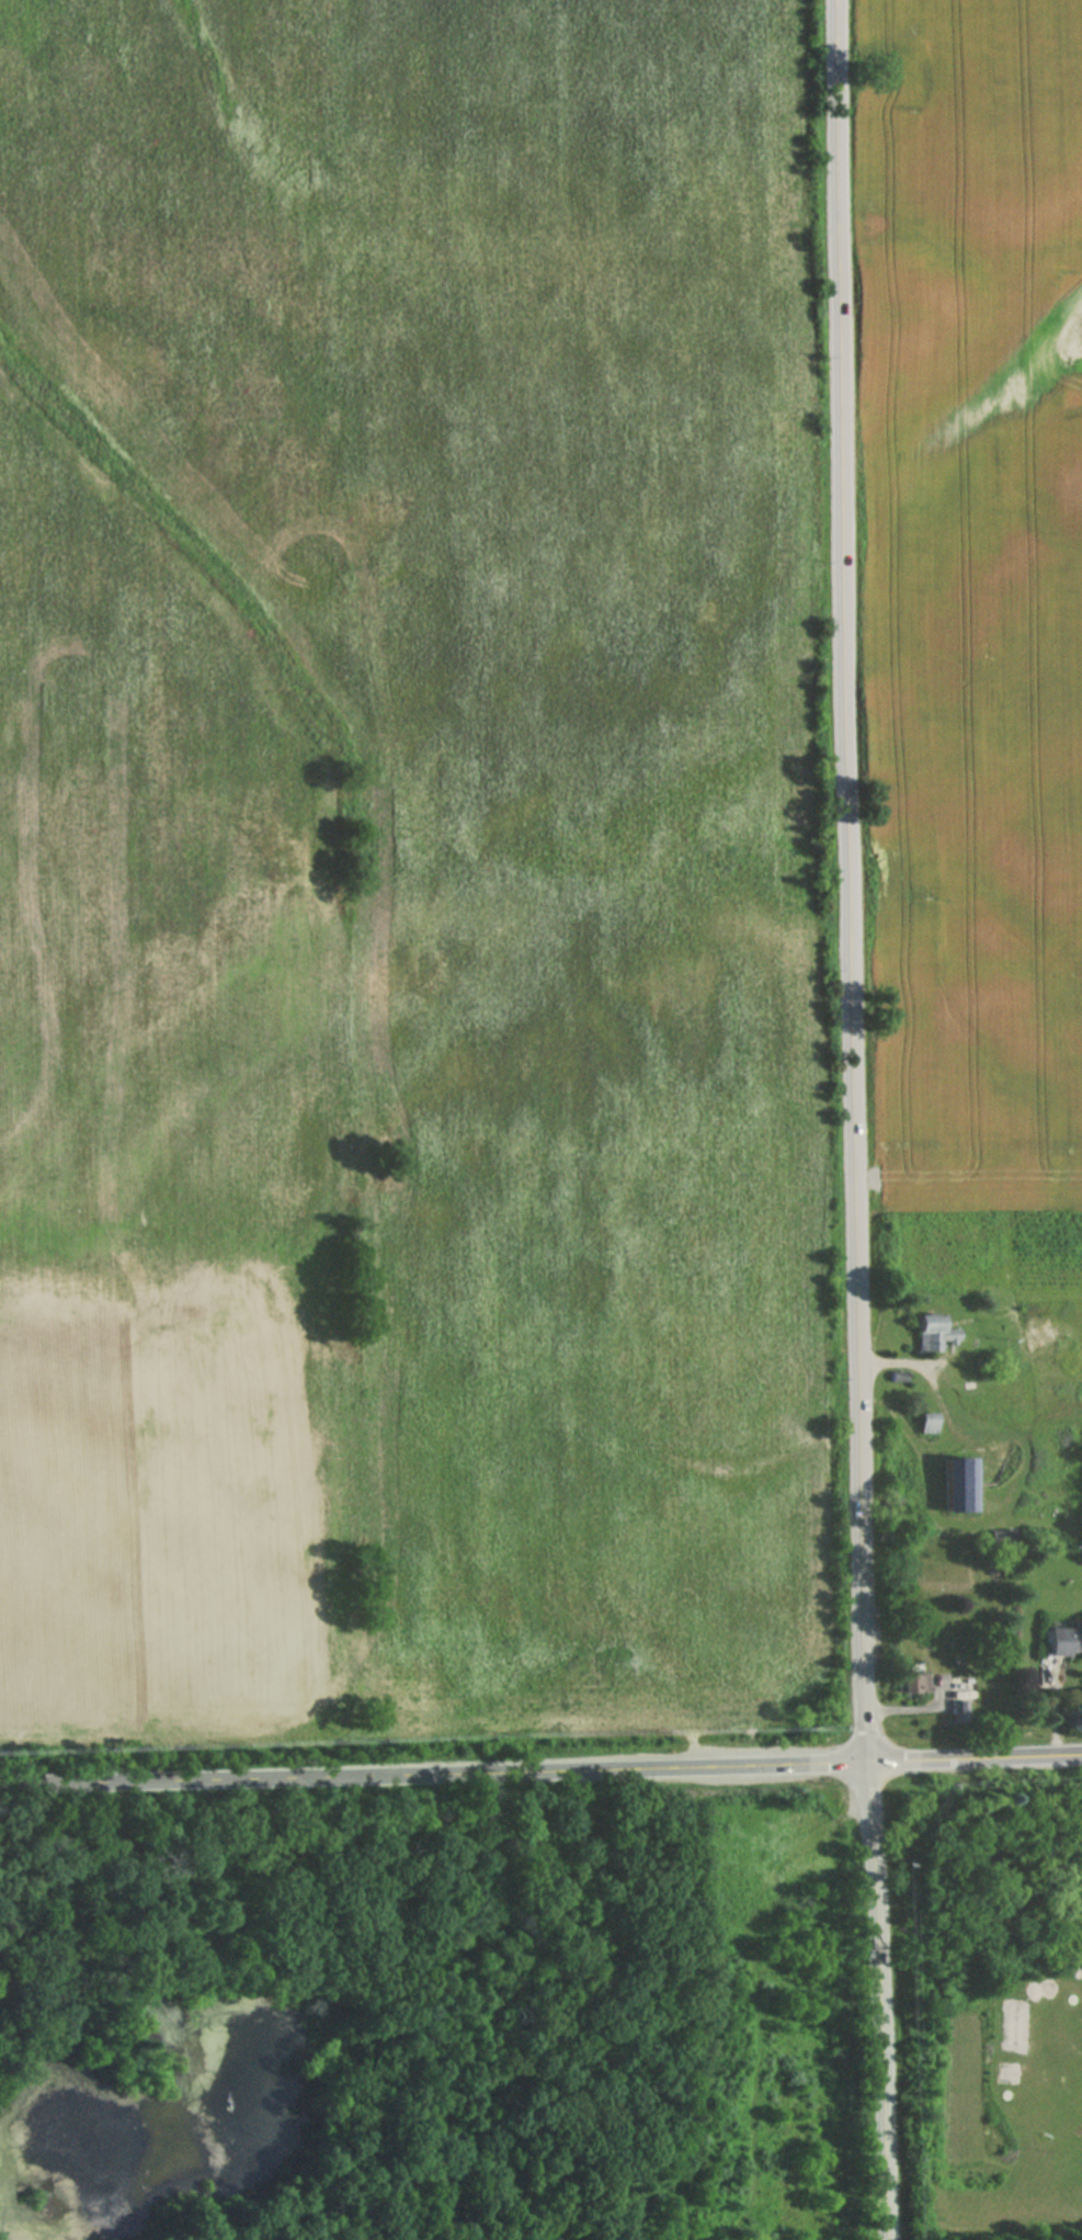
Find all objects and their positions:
crop: (978, 600)
crop: (408, 873)
road: (857, 1120)
building: (933, 1333)
building: (927, 1425)
building: (957, 1483)
building: (1063, 1642)
building: (912, 1684)
building: (960, 1705)
road: (920, 1709)
road: (1052, 1711)
road: (977, 1756)
road: (435, 1770)
road: (758, 2004)
road: (674, 2237)

